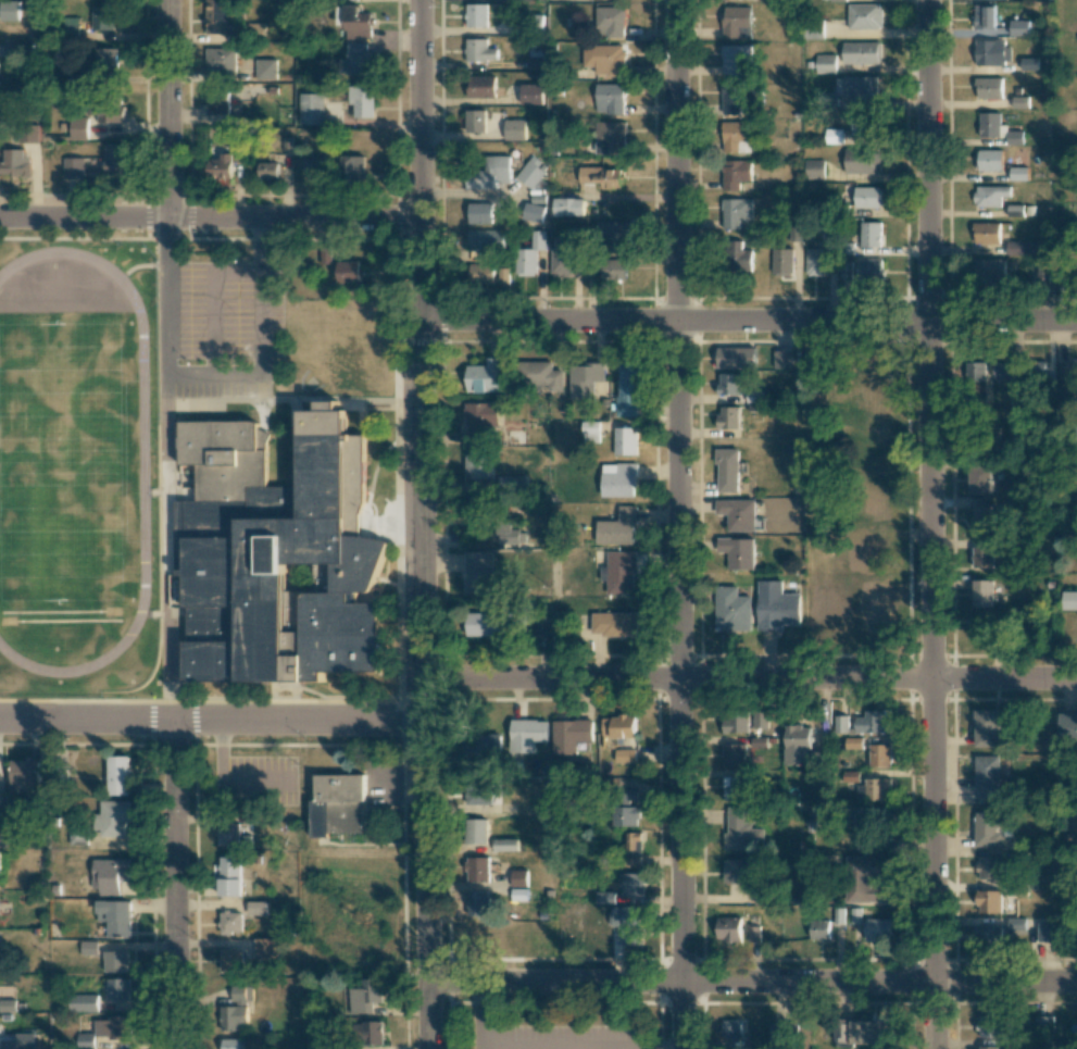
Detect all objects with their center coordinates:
building: (9, 11)
building: (476, 15)
building: (864, 16)
building: (217, 17)
building: (101, 18)
building: (609, 22)
building: (737, 22)
building: (356, 23)
building: (533, 24)
building: (1019, 27)
building: (479, 51)
building: (861, 52)
building: (991, 52)
building: (535, 59)
building: (604, 59)
building: (355, 60)
building: (736, 60)
building: (221, 61)
building: (102, 62)
building: (825, 63)
building: (1028, 63)
building: (265, 71)
building: (479, 87)
building: (855, 87)
building: (989, 88)
building: (530, 95)
building: (610, 98)
building: (731, 98)
building: (217, 99)
building: (361, 102)
building: (109, 108)
road: (168, 109)
building: (310, 109)
building: (475, 122)
building: (990, 125)
building: (77, 128)
building: (514, 130)
building: (28, 133)
building: (832, 136)
building: (610, 137)
building: (736, 137)
building: (1014, 137)
building: (113, 159)
road: (676, 160)
building: (988, 160)
road: (418, 161)
building: (861, 161)
building: (11, 162)
building: (218, 166)
building: (72, 168)
building: (311, 168)
building: (813, 168)
building: (352, 170)
building: (266, 171)
building: (490, 173)
building: (1018, 173)
building: (736, 174)
building: (601, 176)
building: (990, 196)
building: (866, 197)
building: (568, 207)
building: (533, 212)
building: (735, 212)
building: (480, 213)
road: (209, 218)
building: (987, 233)
building: (869, 234)
building: (611, 236)
building: (485, 240)
building: (1022, 248)
building: (528, 255)
building: (561, 257)
building: (739, 258)
building: (781, 261)
building: (815, 262)
building: (868, 269)
building: (604, 270)
building: (844, 270)
building: (988, 270)
building: (349, 272)
building: (488, 275)
building: (1040, 275)
road: (549, 321)
road: (877, 321)
building: (736, 358)
building: (781, 359)
building: (1002, 370)
building: (973, 371)
building: (1065, 371)
road: (213, 373)
building: (540, 375)
building: (483, 377)
building: (585, 379)
building: (728, 384)
building: (628, 389)
building: (480, 415)
building: (728, 417)
building: (590, 432)
building: (472, 437)
building: (625, 441)
park: (65, 463)
building: (478, 464)
building: (727, 471)
building: (618, 479)
building: (979, 479)
building: (512, 486)
building: (871, 496)
building: (814, 508)
building: (738, 513)
building: (979, 514)
road: (928, 524)
building: (617, 527)
building: (508, 534)
building: (864, 547)
building: (737, 552)
building: (275, 555)
building: (980, 557)
building: (478, 573)
building: (619, 573)
building: (981, 594)
building: (1069, 600)
building: (776, 607)
building: (731, 610)
building: (827, 611)
building: (614, 624)
building: (496, 625)
road: (750, 677)
road: (424, 685)
road: (679, 685)
building: (760, 719)
road: (212, 721)
building: (873, 722)
building: (736, 723)
building: (840, 724)
building: (618, 726)
building: (1067, 726)
building: (986, 728)
building: (529, 732)
building: (571, 735)
building: (796, 745)
building: (483, 747)
building: (734, 754)
building: (624, 755)
building: (878, 755)
building: (24, 774)
building: (117, 776)
building: (850, 776)
building: (986, 776)
building: (57, 780)
building: (735, 788)
building: (876, 788)
building: (623, 791)
building: (480, 795)
building: (337, 806)
building: (624, 816)
building: (863, 817)
building: (112, 819)
building: (2, 829)
building: (991, 829)
building: (740, 831)
building: (475, 833)
building: (228, 835)
building: (77, 837)
building: (867, 842)
building: (503, 846)
building: (631, 847)
building: (0, 862)
building: (988, 867)
building: (476, 871)
building: (736, 871)
building: (108, 876)
building: (230, 876)
building: (866, 878)
building: (517, 879)
building: (630, 884)
road: (175, 885)
building: (988, 901)
building: (477, 904)
building: (256, 908)
building: (114, 919)
building: (229, 924)
building: (626, 924)
building: (1015, 927)
building: (877, 928)
building: (728, 929)
building: (819, 929)
building: (1047, 933)
building: (514, 934)
building: (753, 934)
building: (988, 934)
building: (483, 937)
building: (265, 950)
building: (229, 960)
building: (115, 963)
road: (751, 982)
building: (116, 990)
building: (365, 997)
building: (80, 1004)
building: (7, 1006)
building: (235, 1012)
road: (481, 1019)
building: (989, 1026)
building: (111, 1028)
building: (730, 1028)
building: (871, 1032)
building: (780, 1034)
building: (365, 1035)
parking lot: (554, 1038)
building: (17, 1040)
building: (85, 1040)
building: (230, 1044)
building: (990, 1047)
road: (619, 1048)

